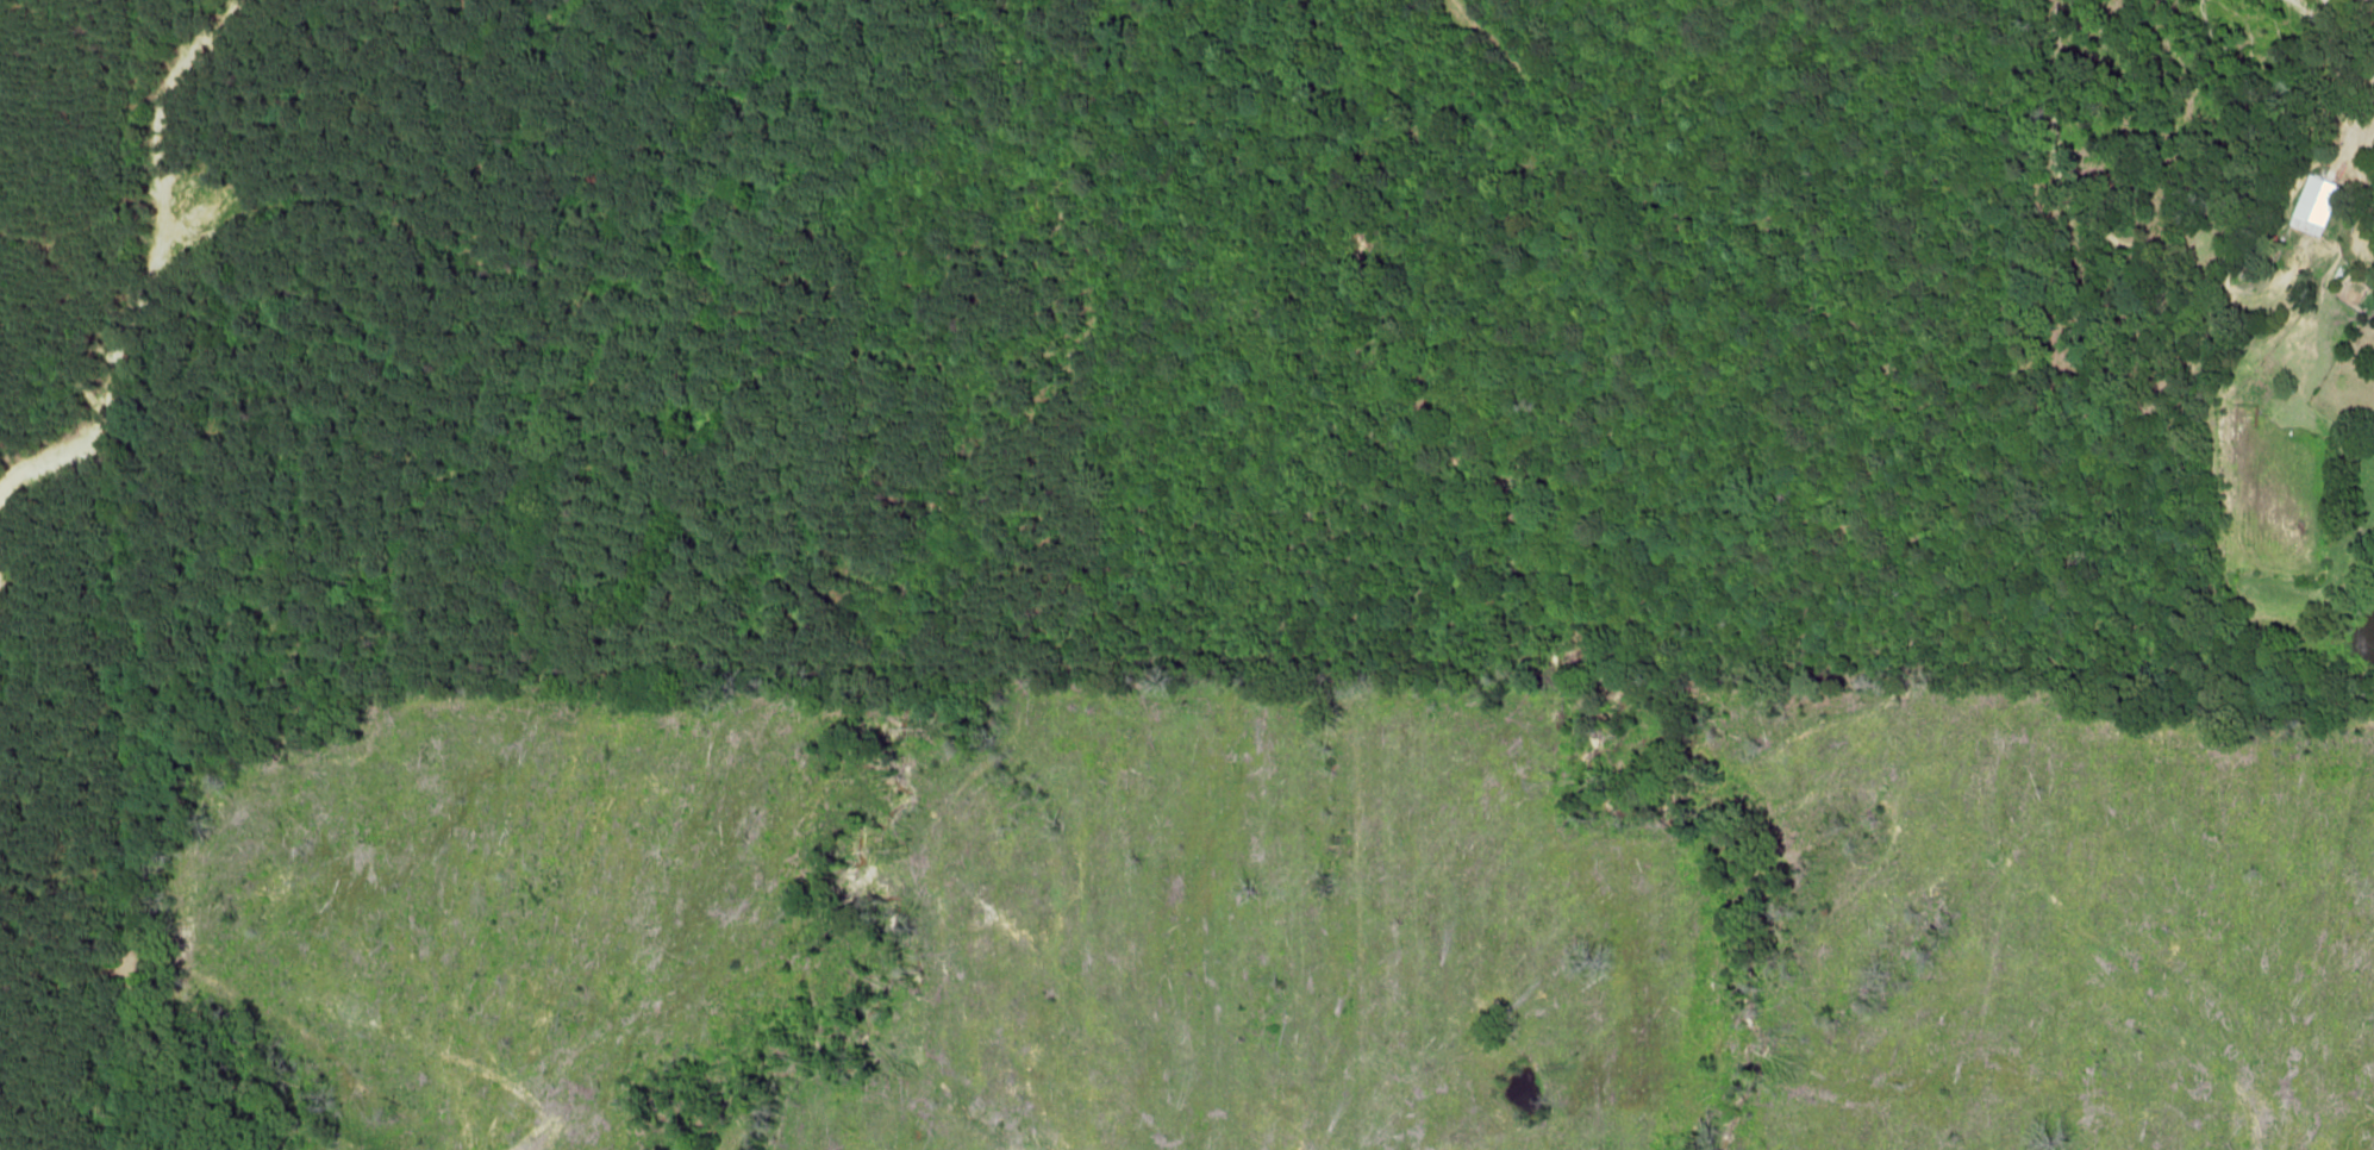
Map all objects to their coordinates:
building: (2316, 205)

